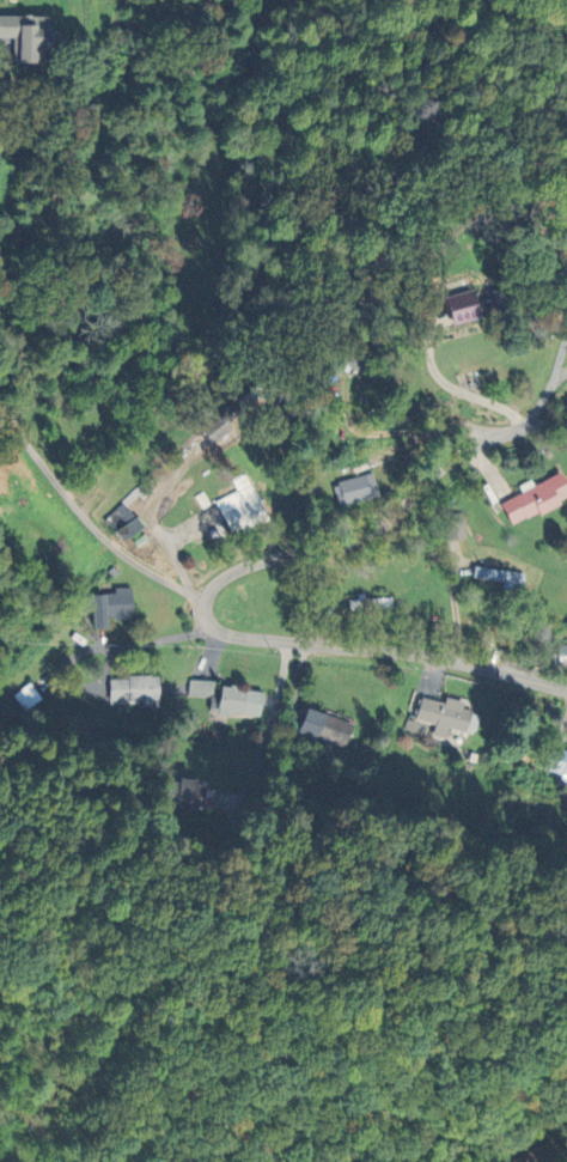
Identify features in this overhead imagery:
building: (28, 36)
building: (467, 306)
building: (358, 364)
road: (549, 383)
road: (456, 387)
building: (224, 422)
building: (355, 489)
building: (536, 498)
building: (240, 506)
road: (89, 522)
building: (126, 522)
building: (456, 527)
road: (176, 560)
building: (502, 577)
road: (212, 585)
building: (371, 603)
building: (111, 607)
road: (158, 638)
building: (562, 655)
building: (202, 688)
building: (135, 690)
building: (28, 696)
building: (240, 701)
building: (447, 716)
road: (269, 723)
building: (327, 728)
building: (561, 762)
building: (187, 793)

